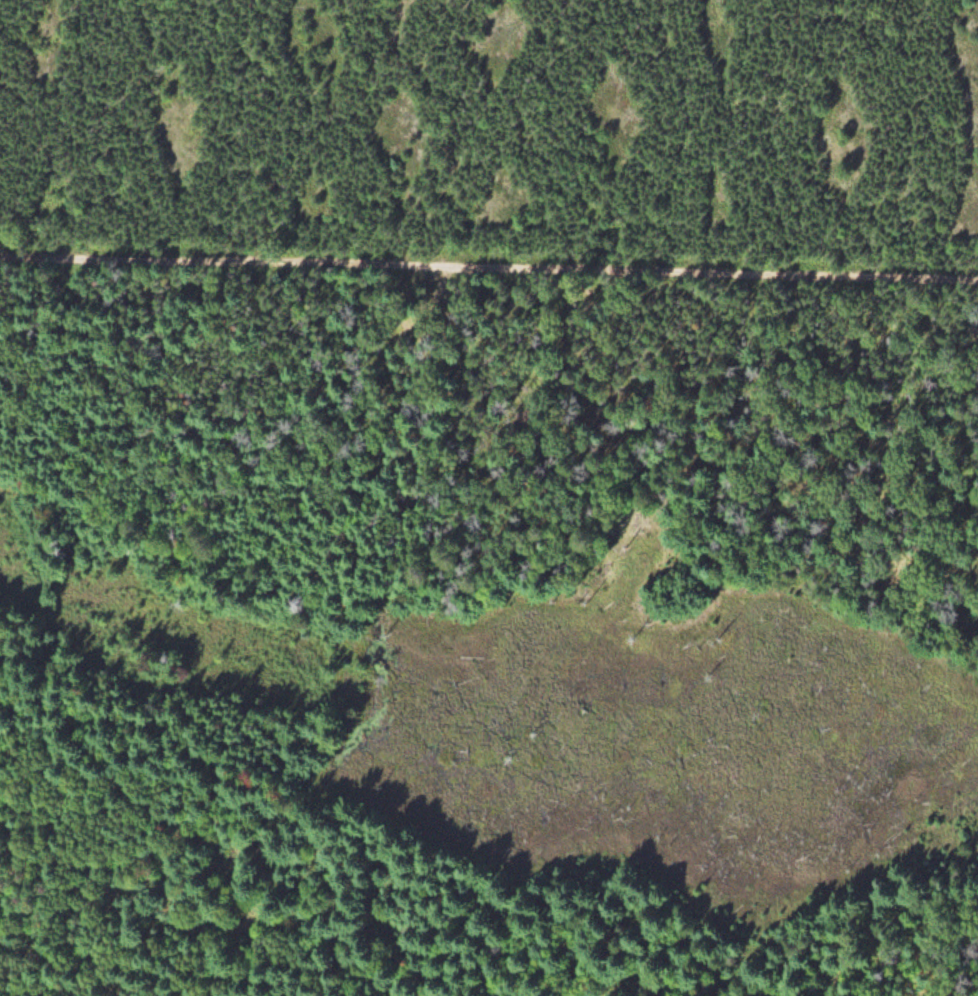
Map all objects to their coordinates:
road: (489, 262)

